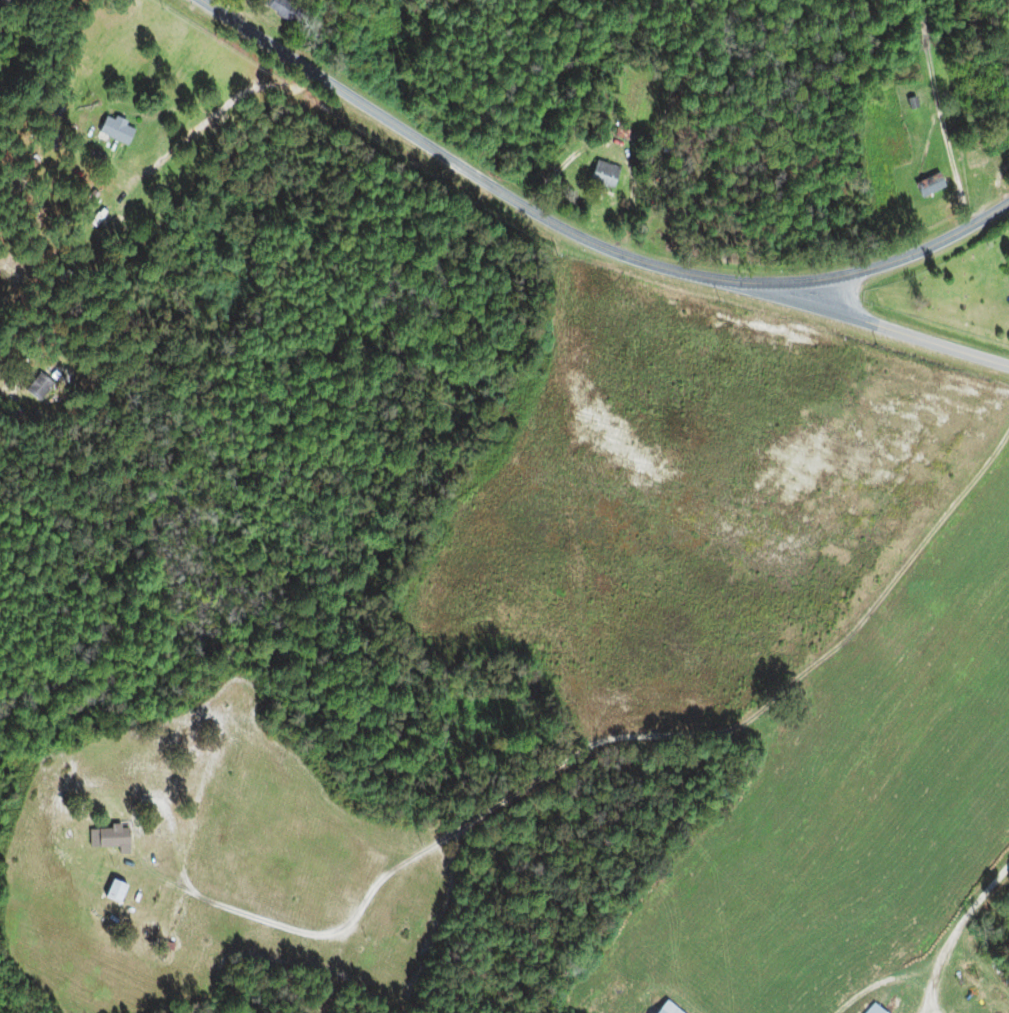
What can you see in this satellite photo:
building: (280, 10)
road: (939, 113)
building: (114, 131)
building: (601, 175)
building: (928, 185)
road: (582, 238)
road: (887, 327)
building: (37, 387)
road: (638, 653)
building: (106, 836)
building: (114, 891)
building: (872, 1009)

